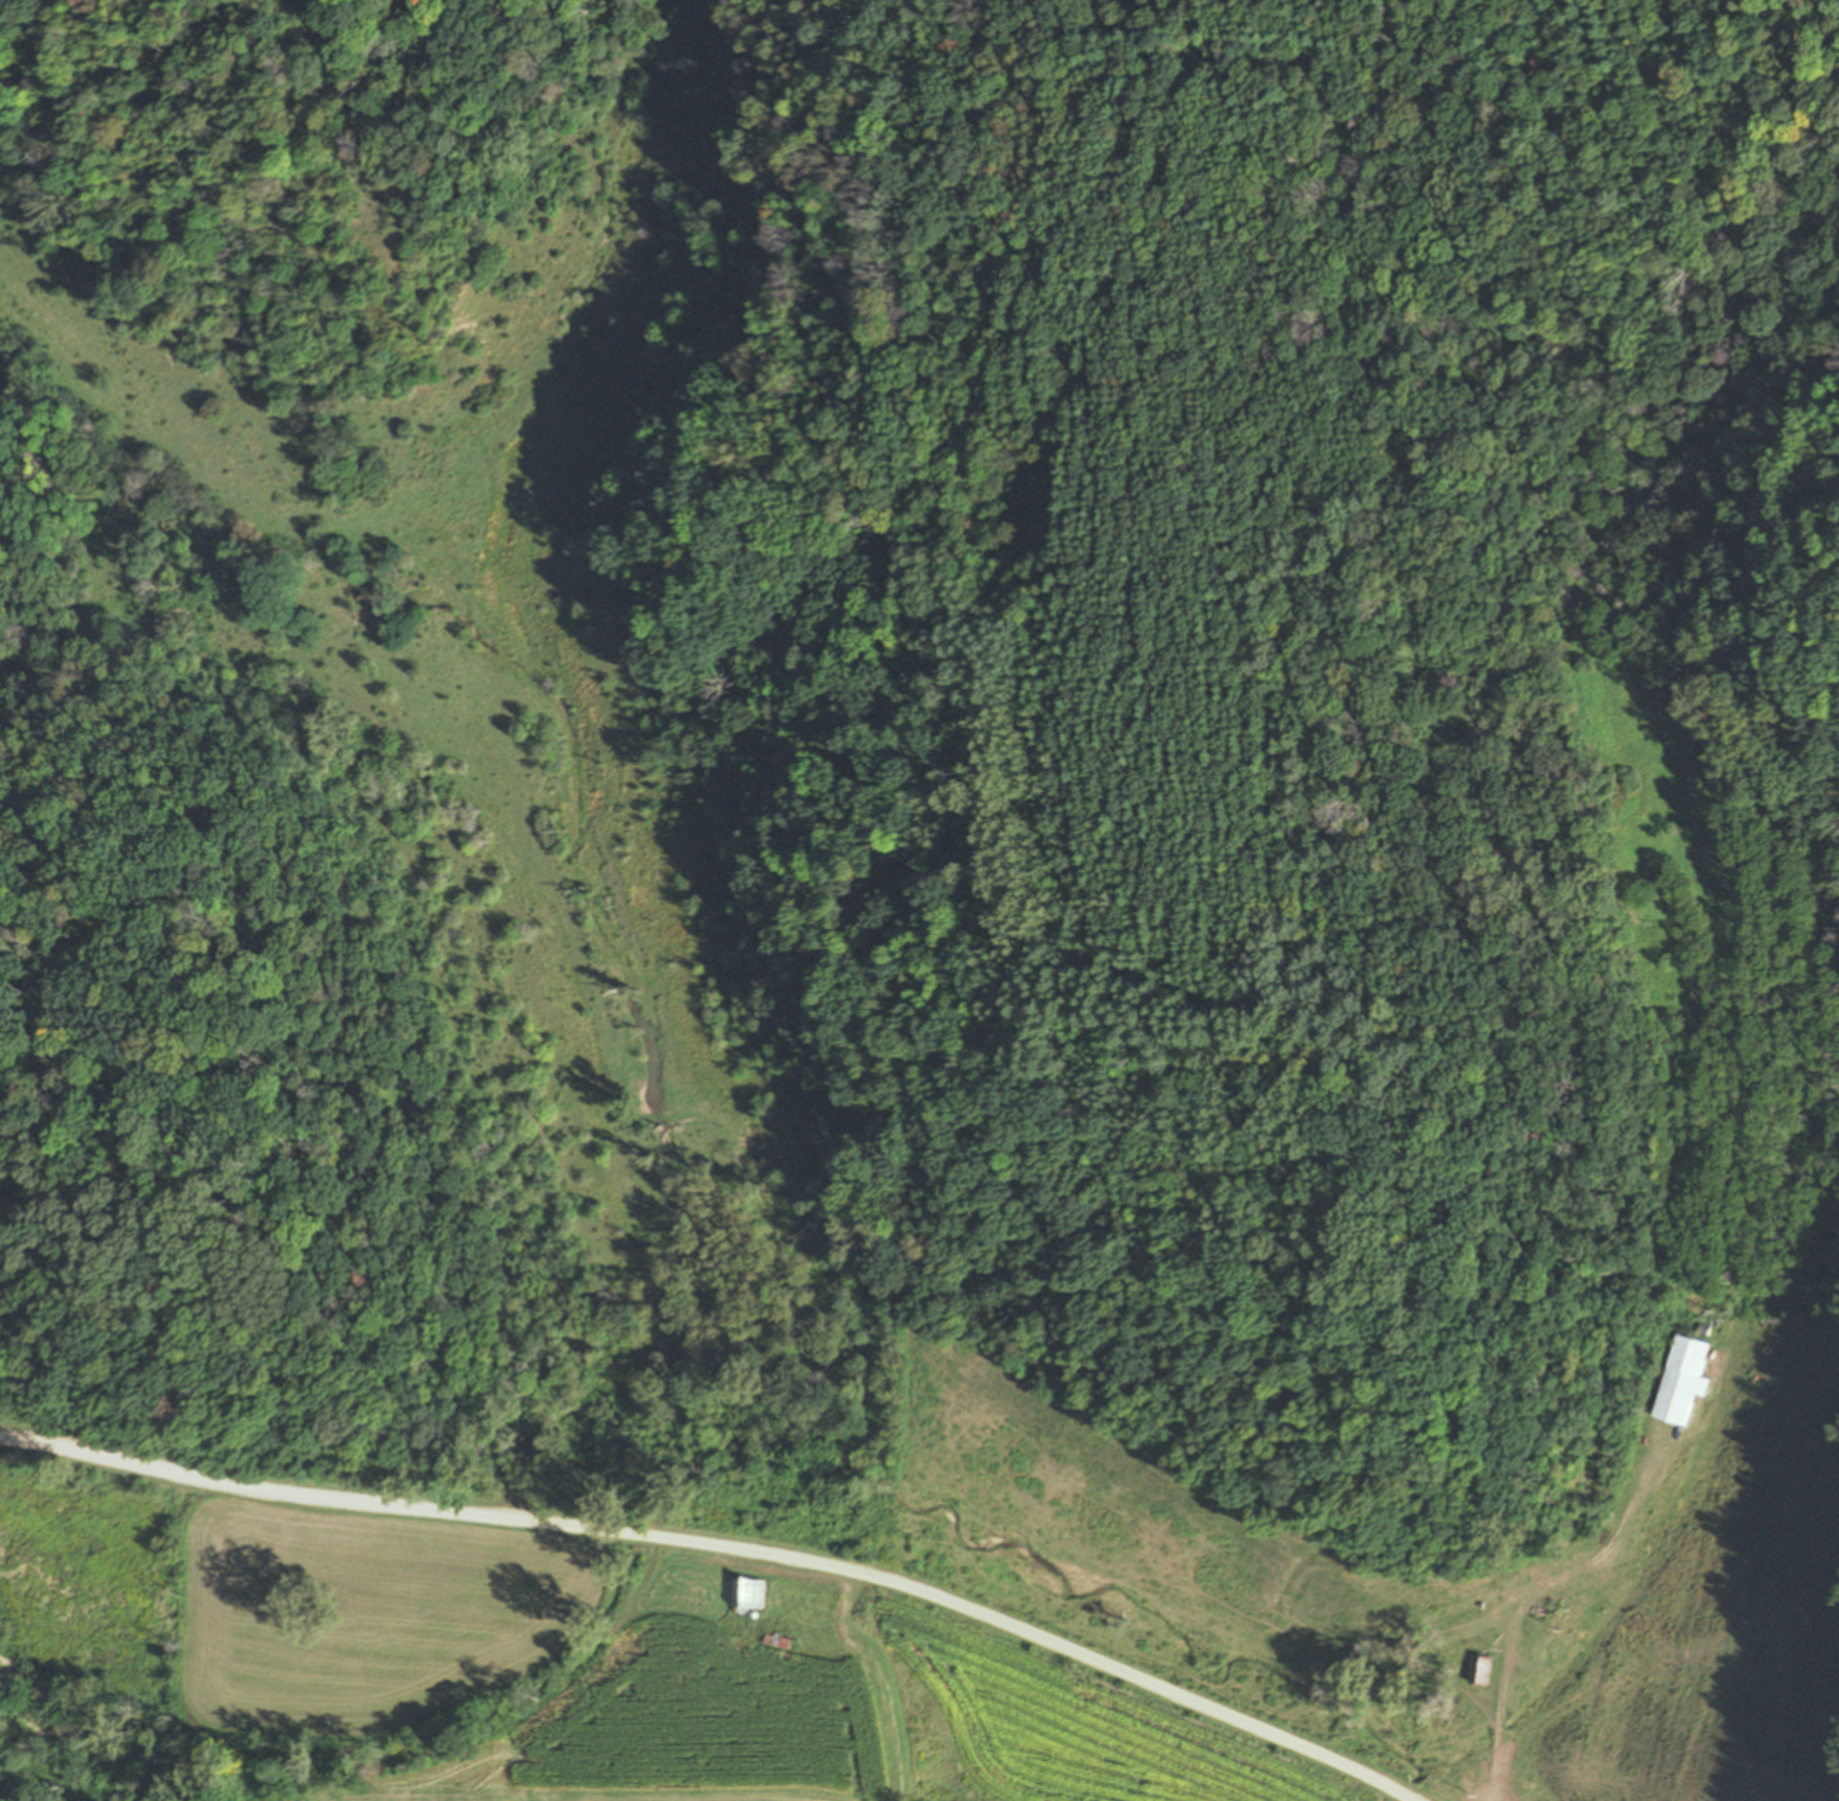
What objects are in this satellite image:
building: (1685, 1382)
road: (725, 1545)
building: (752, 1595)
building: (1483, 1671)

